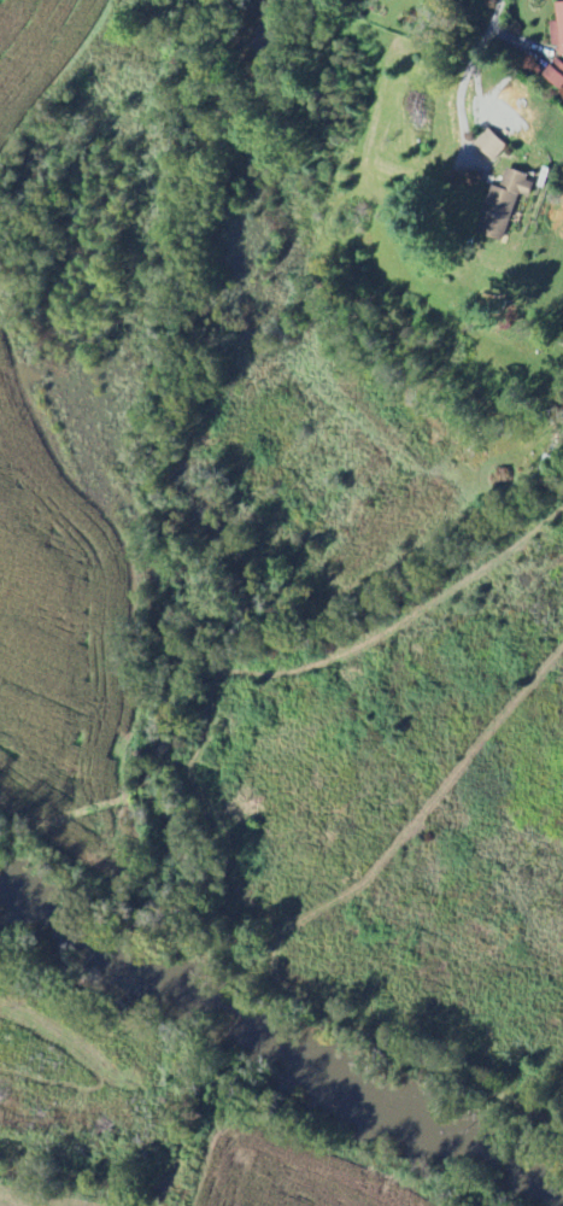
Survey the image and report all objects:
building: (445, 0)
building: (557, 28)
road: (475, 63)
building: (555, 72)
building: (488, 144)
building: (502, 204)
road: (454, 275)
building: (549, 464)
river: (89, 917)
river: (368, 1079)

